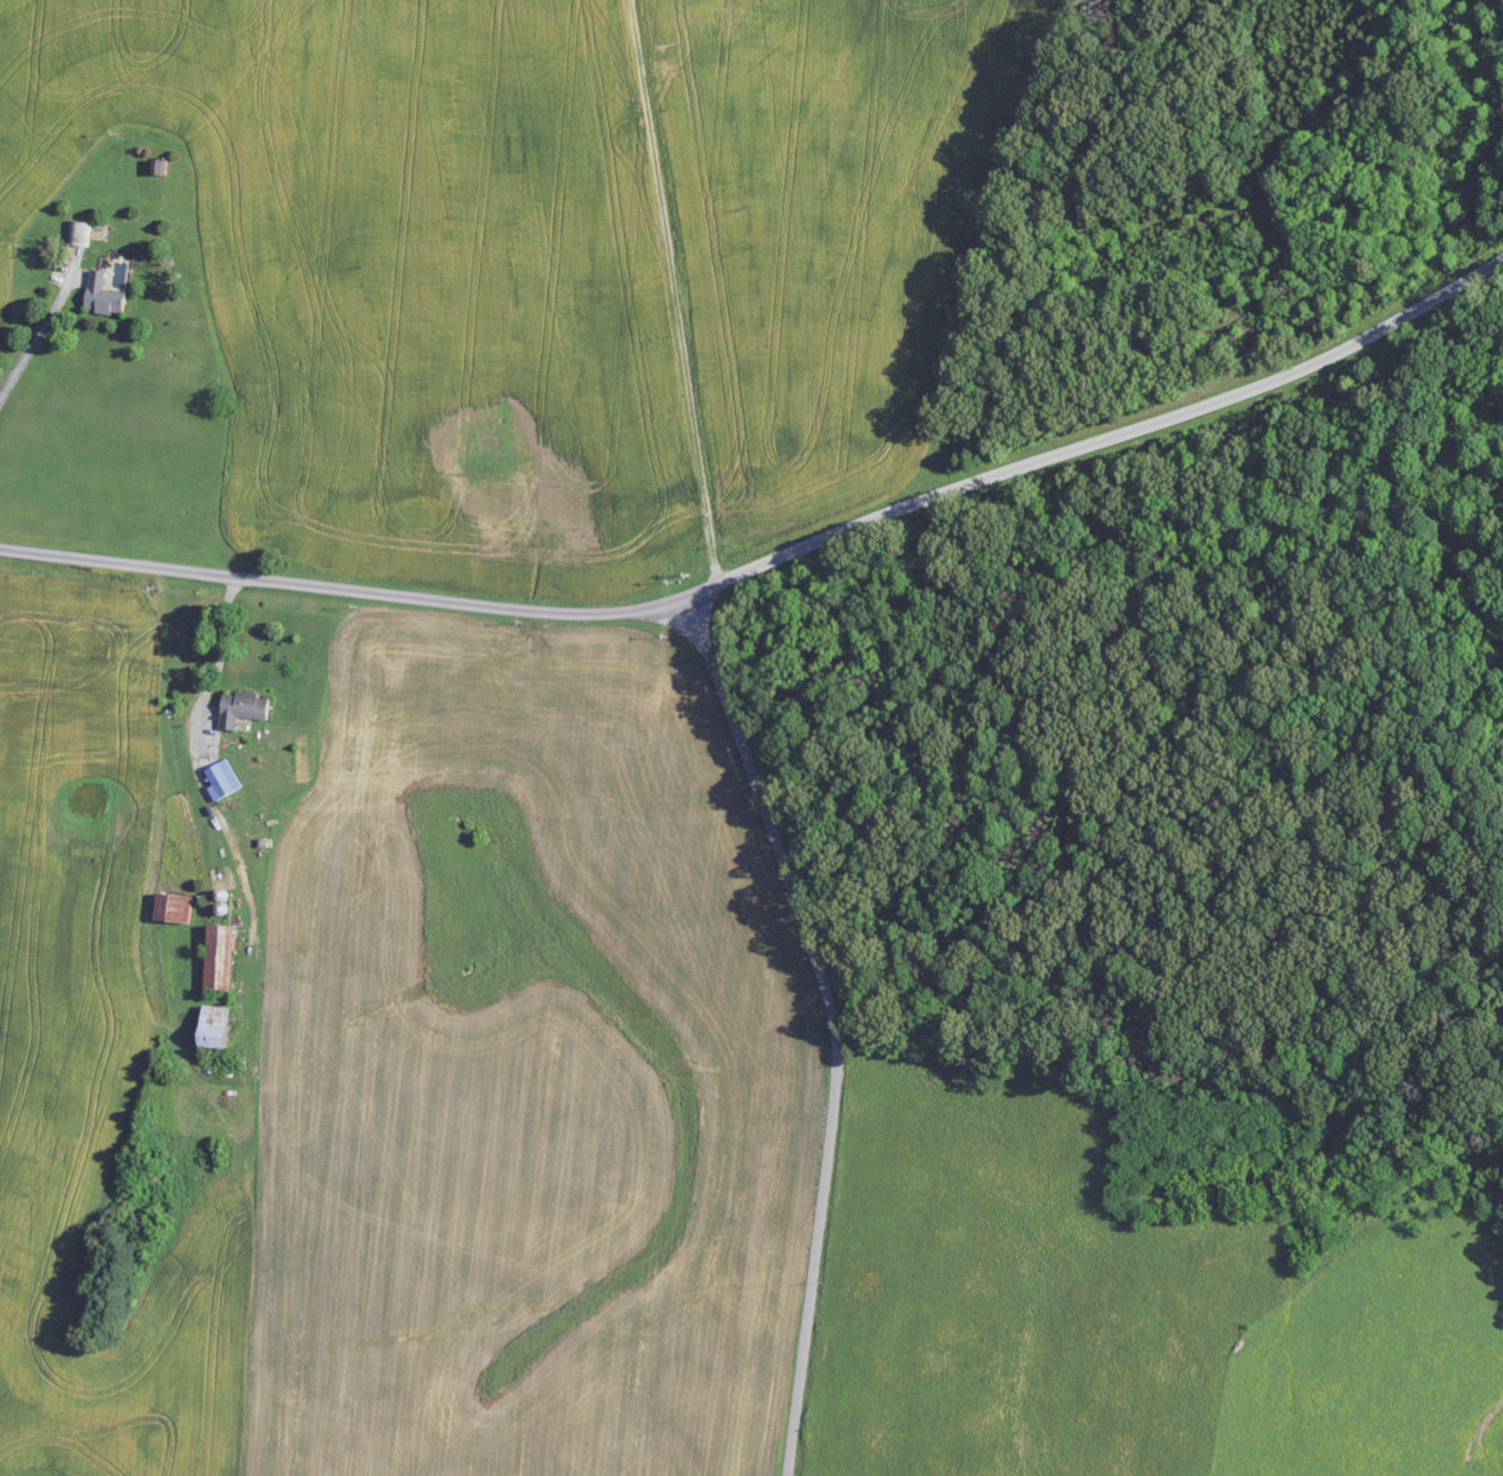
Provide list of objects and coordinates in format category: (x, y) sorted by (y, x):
building: (160, 168)
building: (80, 233)
road: (712, 274)
building: (106, 297)
road: (775, 561)
building: (245, 710)
building: (225, 781)
building: (174, 909)
building: (222, 959)
road: (832, 1026)
building: (218, 1028)
road: (230, 1040)

